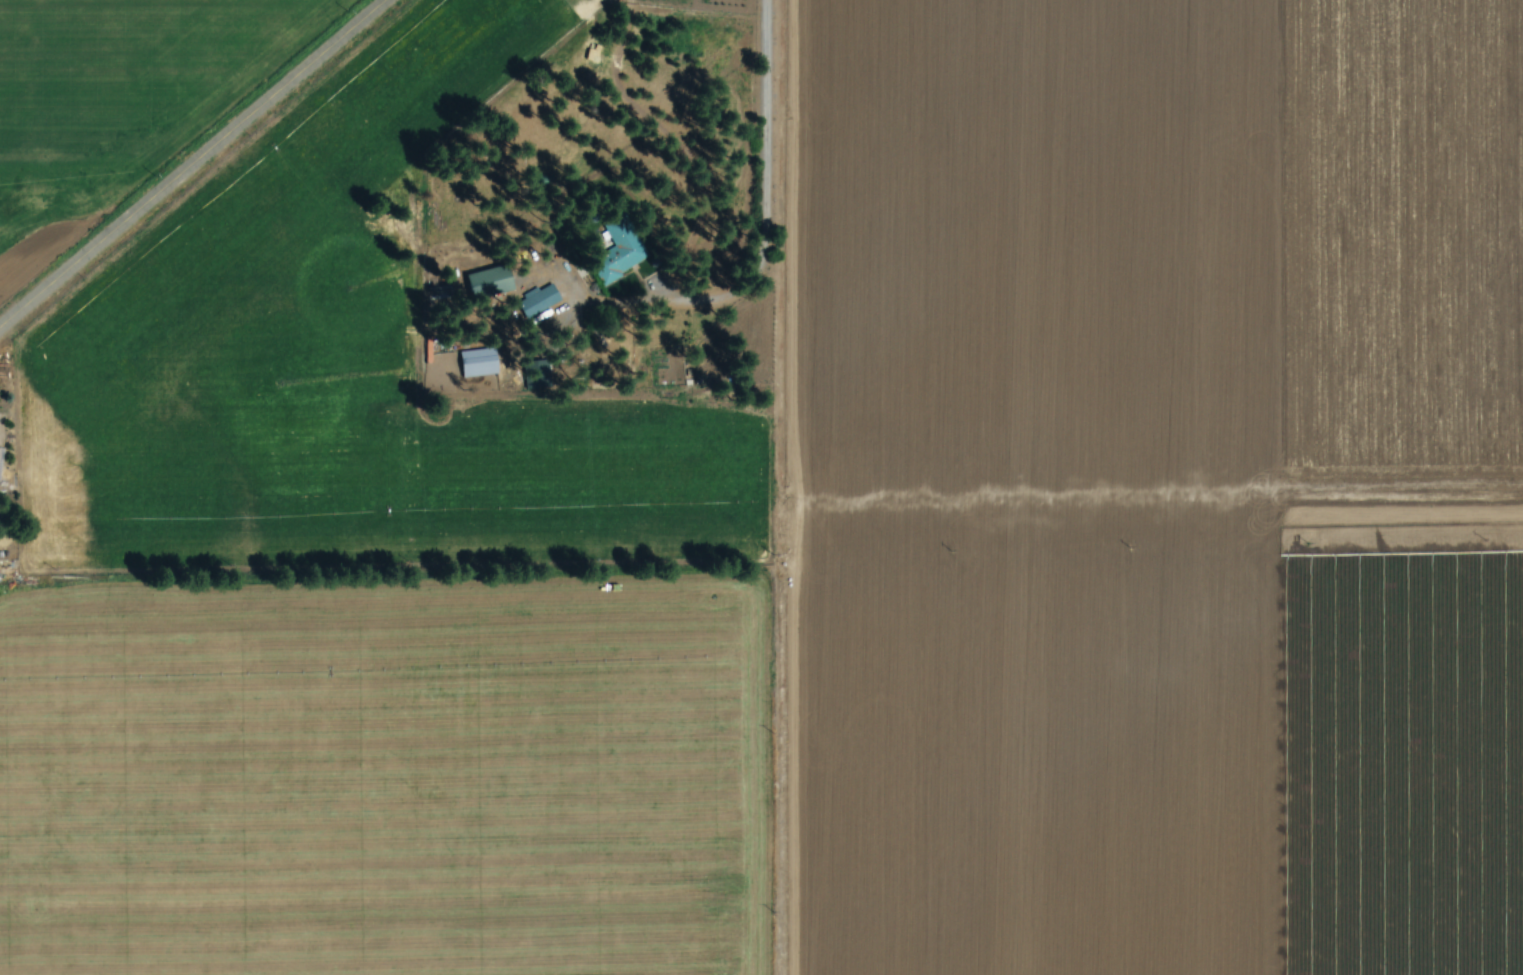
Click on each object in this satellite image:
road: (197, 166)
building: (625, 261)
building: (492, 283)
building: (541, 301)
road: (743, 321)
building: (480, 363)
building: (1, 460)

